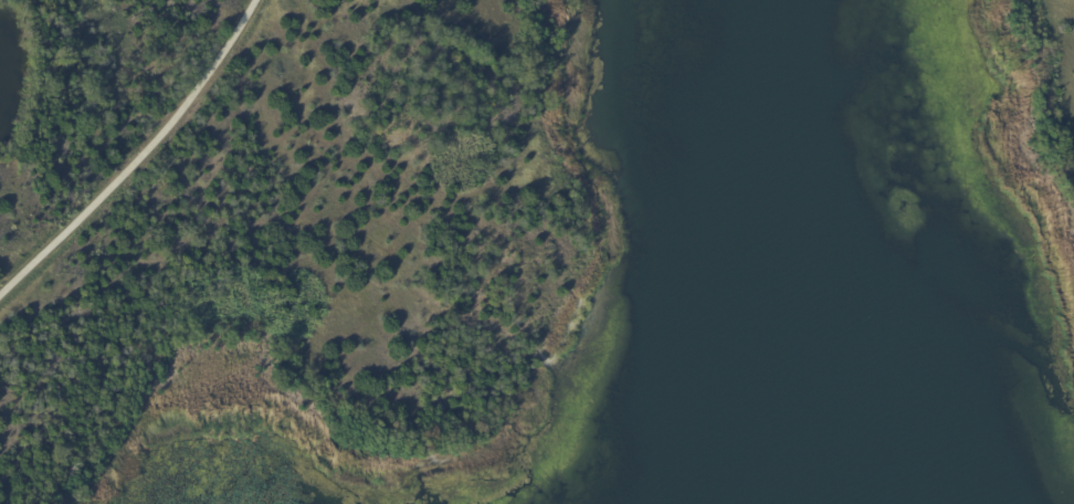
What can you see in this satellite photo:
road: (138, 156)

